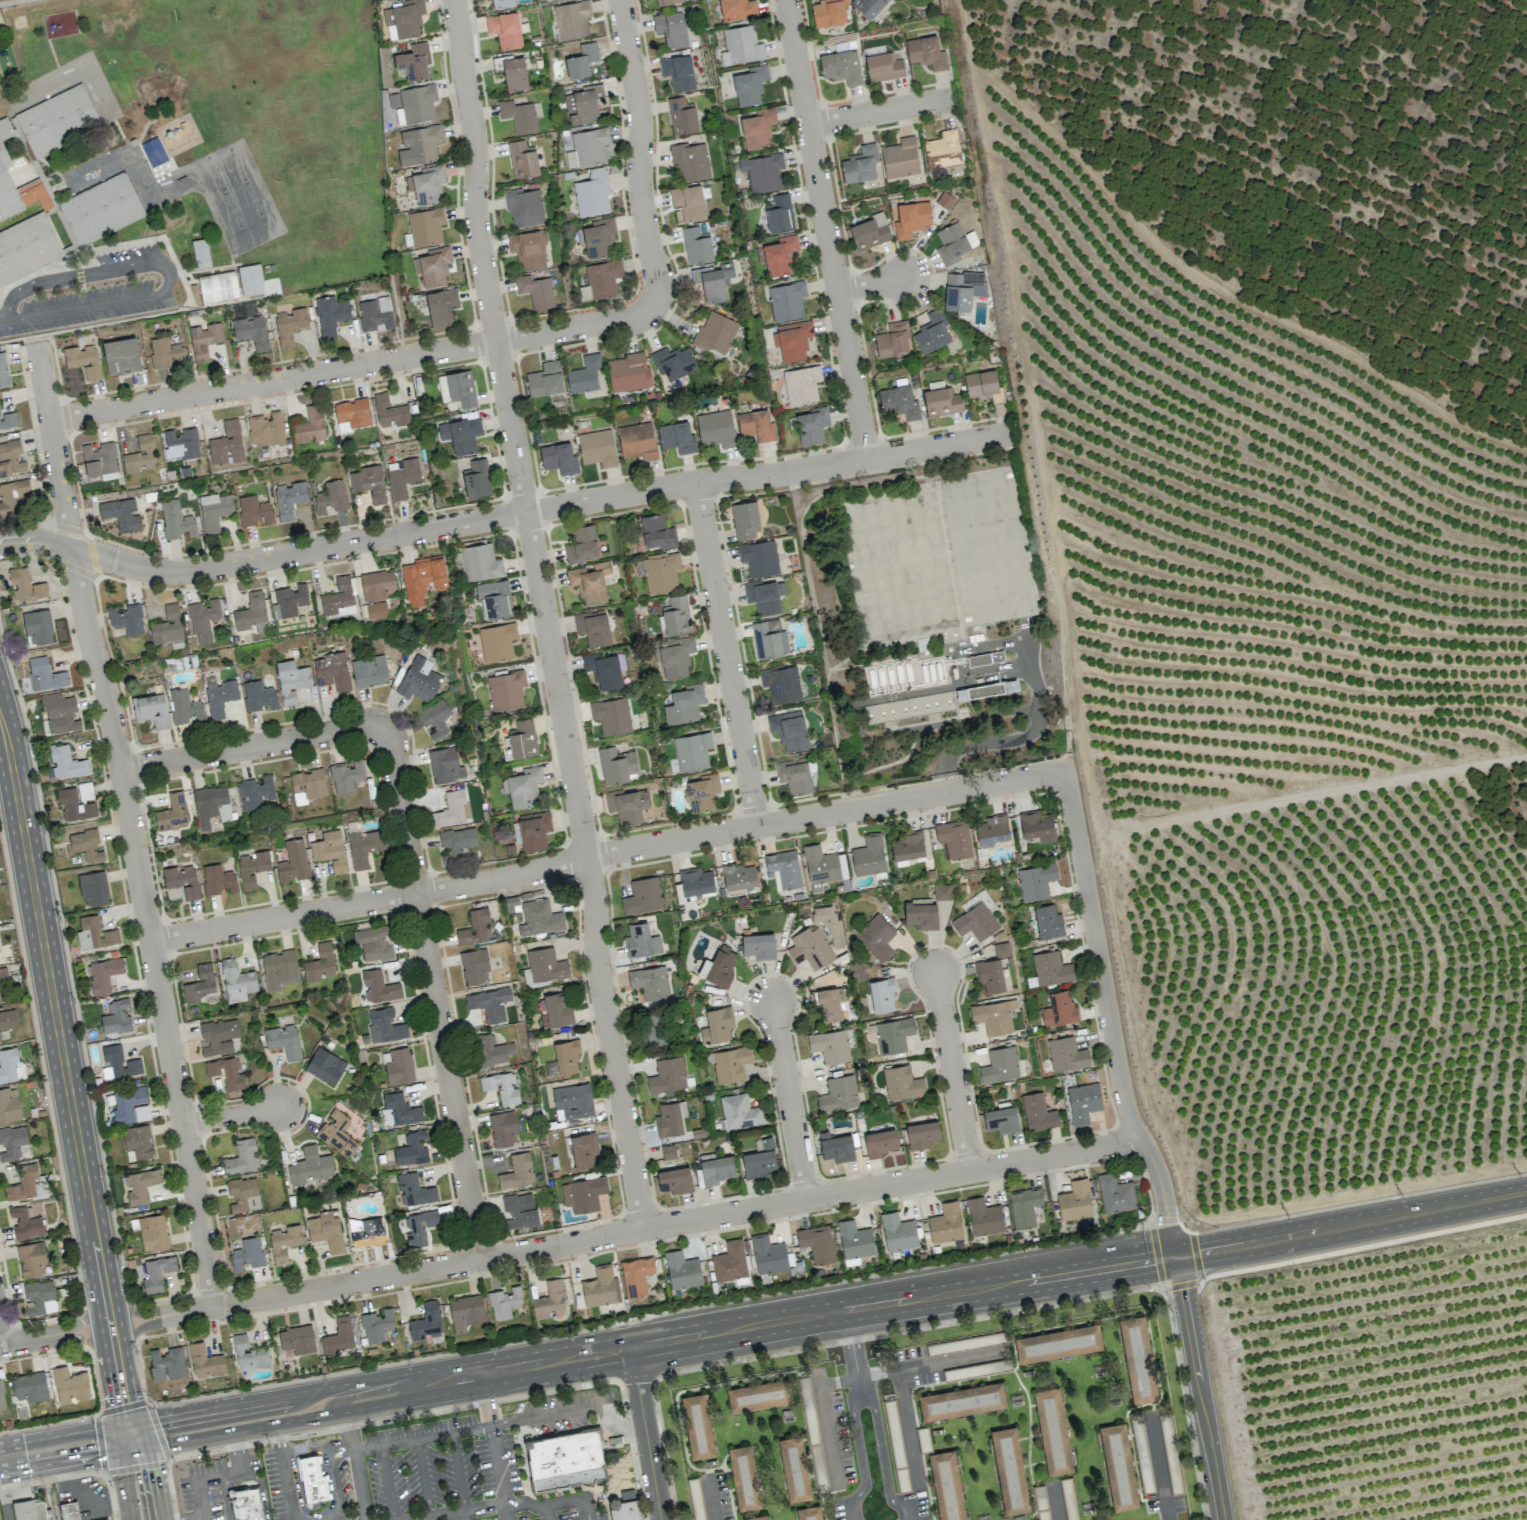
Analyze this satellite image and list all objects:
road: (10, 1)
building: (668, 1)
building: (502, 3)
building: (868, 7)
building: (737, 9)
building: (829, 12)
building: (403, 17)
building: (571, 19)
building: (504, 29)
building: (671, 29)
building: (741, 45)
building: (925, 52)
building: (413, 61)
building: (581, 61)
building: (841, 66)
building: (883, 67)
building: (678, 72)
building: (749, 85)
building: (417, 103)
building: (583, 105)
road: (878, 111)
building: (518, 115)
building: (682, 116)
building: (757, 128)
building: (419, 145)
building: (587, 147)
road: (638, 152)
building: (942, 153)
building: (900, 158)
building: (522, 159)
building: (690, 161)
park: (236, 163)
building: (860, 164)
park: (214, 172)
building: (762, 172)
building: (23, 183)
building: (426, 184)
building: (592, 193)
park: (148, 196)
park: (253, 198)
building: (944, 200)
building: (688, 202)
building: (524, 207)
park: (231, 208)
building: (779, 214)
building: (911, 218)
building: (425, 227)
road: (824, 229)
building: (869, 232)
building: (598, 237)
building: (954, 243)
building: (696, 246)
building: (528, 248)
building: (200, 254)
building: (779, 255)
building: (432, 266)
building: (603, 278)
building: (250, 279)
building: (713, 282)
road: (869, 284)
building: (217, 286)
road: (17, 288)
building: (960, 289)
building: (536, 290)
building: (786, 300)
building: (441, 306)
building: (330, 314)
building: (375, 314)
road: (2, 319)
building: (290, 325)
building: (252, 331)
building: (933, 332)
building: (715, 333)
building: (204, 340)
building: (792, 340)
building: (892, 340)
building: (165, 352)
building: (121, 356)
building: (82, 360)
building: (673, 362)
road: (352, 365)
building: (3, 371)
building: (628, 372)
building: (584, 374)
building: (545, 379)
building: (801, 384)
building: (983, 385)
building: (457, 388)
building: (899, 401)
building: (941, 401)
building: (389, 411)
building: (353, 412)
building: (8, 419)
building: (756, 425)
building: (812, 425)
building: (309, 426)
building: (265, 428)
building: (715, 428)
building: (460, 434)
building: (676, 437)
building: (636, 441)
building: (180, 444)
building: (227, 444)
road: (53, 446)
building: (597, 448)
building: (139, 455)
building: (11, 458)
building: (559, 458)
building: (99, 459)
building: (402, 478)
building: (477, 479)
building: (368, 483)
building: (12, 497)
building: (330, 497)
building: (288, 499)
road: (541, 508)
building: (214, 510)
building: (254, 510)
building: (120, 514)
building: (176, 520)
building: (745, 520)
building: (657, 532)
road: (35, 540)
building: (581, 545)
building: (759, 558)
building: (480, 562)
building: (661, 571)
building: (422, 579)
building: (589, 582)
building: (377, 584)
building: (25, 585)
building: (764, 596)
building: (338, 598)
building: (495, 598)
building: (288, 601)
building: (376, 610)
building: (251, 613)
road: (543, 614)
building: (676, 615)
building: (126, 619)
building: (203, 619)
building: (167, 625)
building: (38, 627)
building: (593, 627)
building: (769, 639)
building: (497, 641)
road: (725, 653)
building: (675, 655)
building: (603, 669)
building: (331, 671)
building: (369, 671)
building: (44, 674)
building: (418, 680)
building: (291, 681)
building: (781, 684)
building: (986, 689)
building: (505, 690)
building: (259, 695)
building: (219, 697)
building: (684, 704)
building: (184, 706)
building: (908, 707)
building: (149, 709)
building: (59, 713)
building: (611, 716)
building: (435, 719)
building: (789, 729)
road: (1025, 732)
building: (523, 739)
road: (114, 743)
road: (252, 745)
building: (691, 751)
building: (66, 763)
building: (445, 765)
building: (616, 765)
building: (794, 775)
building: (346, 776)
road: (945, 781)
building: (307, 785)
building: (522, 787)
building: (255, 792)
building: (702, 792)
building: (76, 801)
building: (211, 805)
building: (626, 805)
building: (452, 809)
building: (172, 813)
building: (1037, 825)
building: (534, 829)
building: (992, 829)
building: (954, 837)
building: (458, 840)
building: (85, 846)
building: (907, 846)
building: (364, 847)
building: (329, 850)
road: (606, 852)
building: (868, 855)
building: (292, 861)
building: (820, 864)
building: (252, 867)
building: (784, 868)
building: (739, 876)
building: (218, 879)
building: (182, 880)
building: (695, 881)
building: (1035, 881)
building: (93, 888)
building: (942, 892)
building: (642, 896)
building: (921, 914)
building: (539, 917)
building: (975, 917)
building: (1047, 921)
building: (829, 924)
building: (475, 927)
building: (94, 933)
building: (876, 936)
building: (640, 940)
building: (374, 942)
building: (758, 946)
building: (810, 948)
building: (1001, 950)
building: (319, 963)
building: (545, 965)
building: (474, 966)
building: (718, 966)
building: (1051, 968)
building: (279, 969)
building: (3, 973)
building: (103, 974)
building: (989, 976)
building: (236, 980)
building: (650, 982)
building: (199, 983)
building: (378, 986)
road: (432, 994)
building: (882, 995)
road: (52, 999)
building: (0, 1000)
building: (490, 1003)
building: (830, 1003)
building: (1059, 1009)
building: (556, 1010)
building: (993, 1016)
building: (116, 1017)
road: (1108, 1017)
building: (7, 1018)
building: (717, 1025)
building: (384, 1026)
building: (651, 1027)
building: (893, 1034)
building: (218, 1036)
building: (0, 1040)
building: (283, 1040)
building: (830, 1046)
building: (492, 1050)
building: (1066, 1054)
building: (566, 1057)
building: (117, 1062)
building: (730, 1064)
building: (10, 1065)
building: (325, 1065)
building: (397, 1065)
building: (1000, 1065)
road: (952, 1070)
building: (226, 1072)
building: (667, 1075)
building: (901, 1083)
building: (501, 1087)
building: (838, 1093)
road: (788, 1099)
building: (572, 1101)
building: (1083, 1102)
building: (9, 1104)
building: (130, 1105)
building: (399, 1109)
building: (739, 1112)
building: (1038, 1112)
road: (229, 1115)
building: (670, 1118)
building: (1001, 1120)
road: (180, 1123)
building: (503, 1128)
building: (337, 1133)
building: (922, 1134)
building: (138, 1141)
building: (12, 1142)
building: (880, 1142)
building: (836, 1147)
building: (411, 1148)
building: (583, 1149)
building: (668, 1151)
building: (241, 1157)
building: (759, 1160)
building: (310, 1166)
building: (717, 1169)
building: (674, 1180)
building: (26, 1184)
building: (140, 1185)
building: (414, 1189)
building: (583, 1193)
building: (1115, 1193)
building: (243, 1194)
building: (1075, 1200)
building: (1024, 1207)
building: (519, 1210)
building: (984, 1217)
building: (25, 1222)
road: (676, 1222)
building: (945, 1223)
road: (1351, 1224)
building: (419, 1227)
building: (325, 1230)
building: (151, 1231)
building: (366, 1232)
building: (898, 1232)
building: (854, 1239)
building: (283, 1241)
building: (816, 1243)
road: (1362, 1247)
building: (247, 1253)
building: (768, 1254)
traffic signals: (1176, 1257)
building: (31, 1260)
building: (730, 1261)
building: (682, 1270)
building: (156, 1273)
building: (636, 1275)
road: (1179, 1284)
building: (601, 1287)
building: (40, 1297)
building: (549, 1300)
road: (902, 1300)
building: (504, 1302)
road: (198, 1310)
road: (137, 1311)
building: (465, 1311)
road: (85, 1314)
road: (109, 1319)
building: (426, 1321)
road: (143, 1324)
building: (377, 1325)
building: (338, 1337)
road: (87, 1338)
road: (28, 1339)
building: (297, 1339)
building: (1059, 1343)
road: (852, 1347)
building: (248, 1353)
building: (1139, 1360)
building: (205, 1361)
road: (928, 1361)
building: (166, 1363)
road: (530, 1365)
building: (69, 1385)
building: (29, 1386)
road: (120, 1388)
road: (860, 1388)
road: (1200, 1388)
road: (415, 1392)
road: (375, 1393)
building: (758, 1394)
building: (1, 1396)
road: (278, 1396)
road: (486, 1400)
traffic signals: (123, 1401)
building: (963, 1403)
road: (545, 1415)
traffic signals: (161, 1418)
road: (620, 1419)
building: (697, 1426)
road: (259, 1427)
building: (1053, 1431)
road: (645, 1433)
road: (62, 1435)
road: (137, 1435)
road: (422, 1437)
road: (122, 1438)
building: (564, 1451)
traffic signals: (95, 1456)
road: (59, 1461)
parking lot: (475, 1464)
road: (357, 1465)
building: (1118, 1465)
building: (794, 1468)
traffic signals: (152, 1469)
road: (1158, 1470)
building: (1010, 1471)
road: (284, 1472)
road: (498, 1472)
road: (458, 1476)
building: (311, 1477)
road: (335, 1477)
building: (745, 1478)
road: (219, 1479)
road: (422, 1479)
building: (566, 1479)
parking lot: (214, 1481)
parking lot: (278, 1481)
road: (155, 1483)
road: (387, 1483)
building: (947, 1485)
road: (123, 1486)
road: (261, 1488)
parking lot: (342, 1488)
road: (4, 1489)
road: (82, 1498)
road: (224, 1499)
road: (710, 1500)
building: (246, 1503)
road: (1054, 1505)
road: (543, 1506)
building: (30, 1509)
road: (585, 1509)
building: (623, 1509)
building: (68, 1510)
road: (457, 1512)
road: (311, 1513)
road: (545, 1513)
building: (810, 1514)
building: (759, 1518)
building: (103, 1519)
road: (200, 1519)

